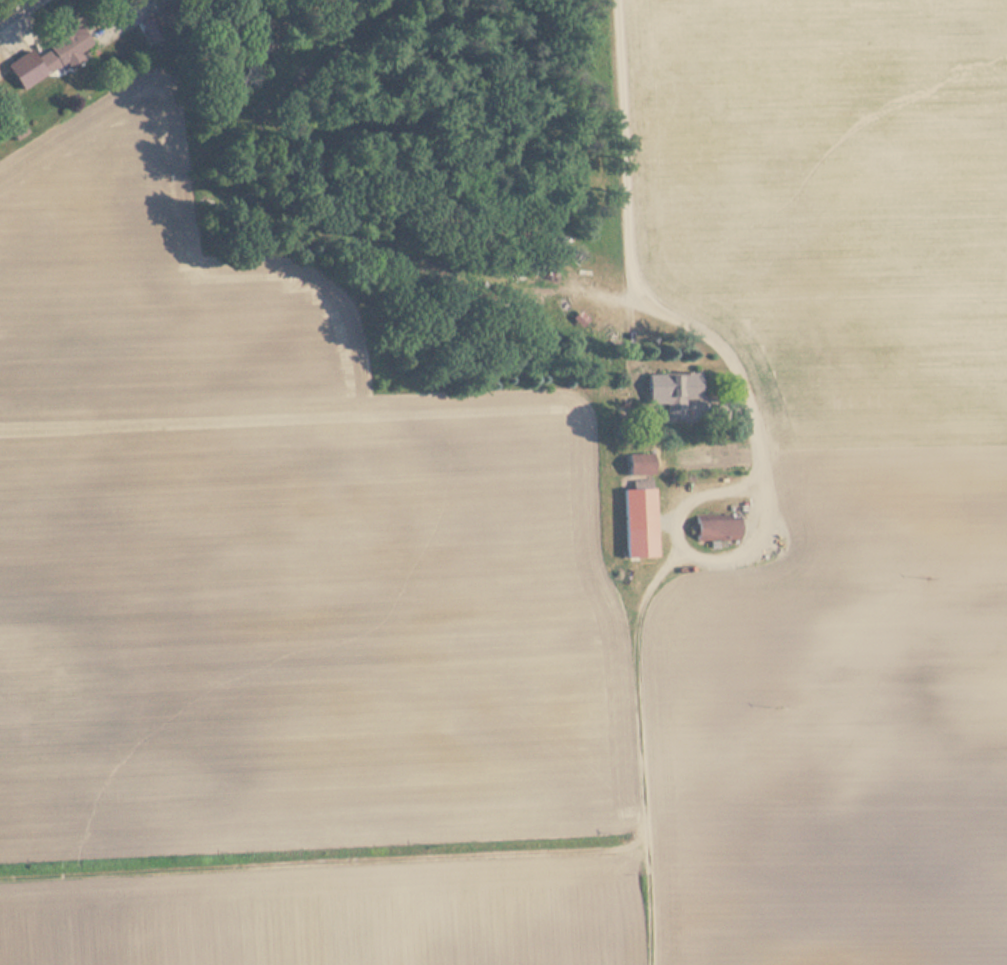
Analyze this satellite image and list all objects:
road: (15, 10)
building: (155, 30)
building: (64, 52)
road: (647, 294)
building: (581, 320)
building: (680, 393)
building: (641, 465)
building: (640, 524)
building: (719, 531)

